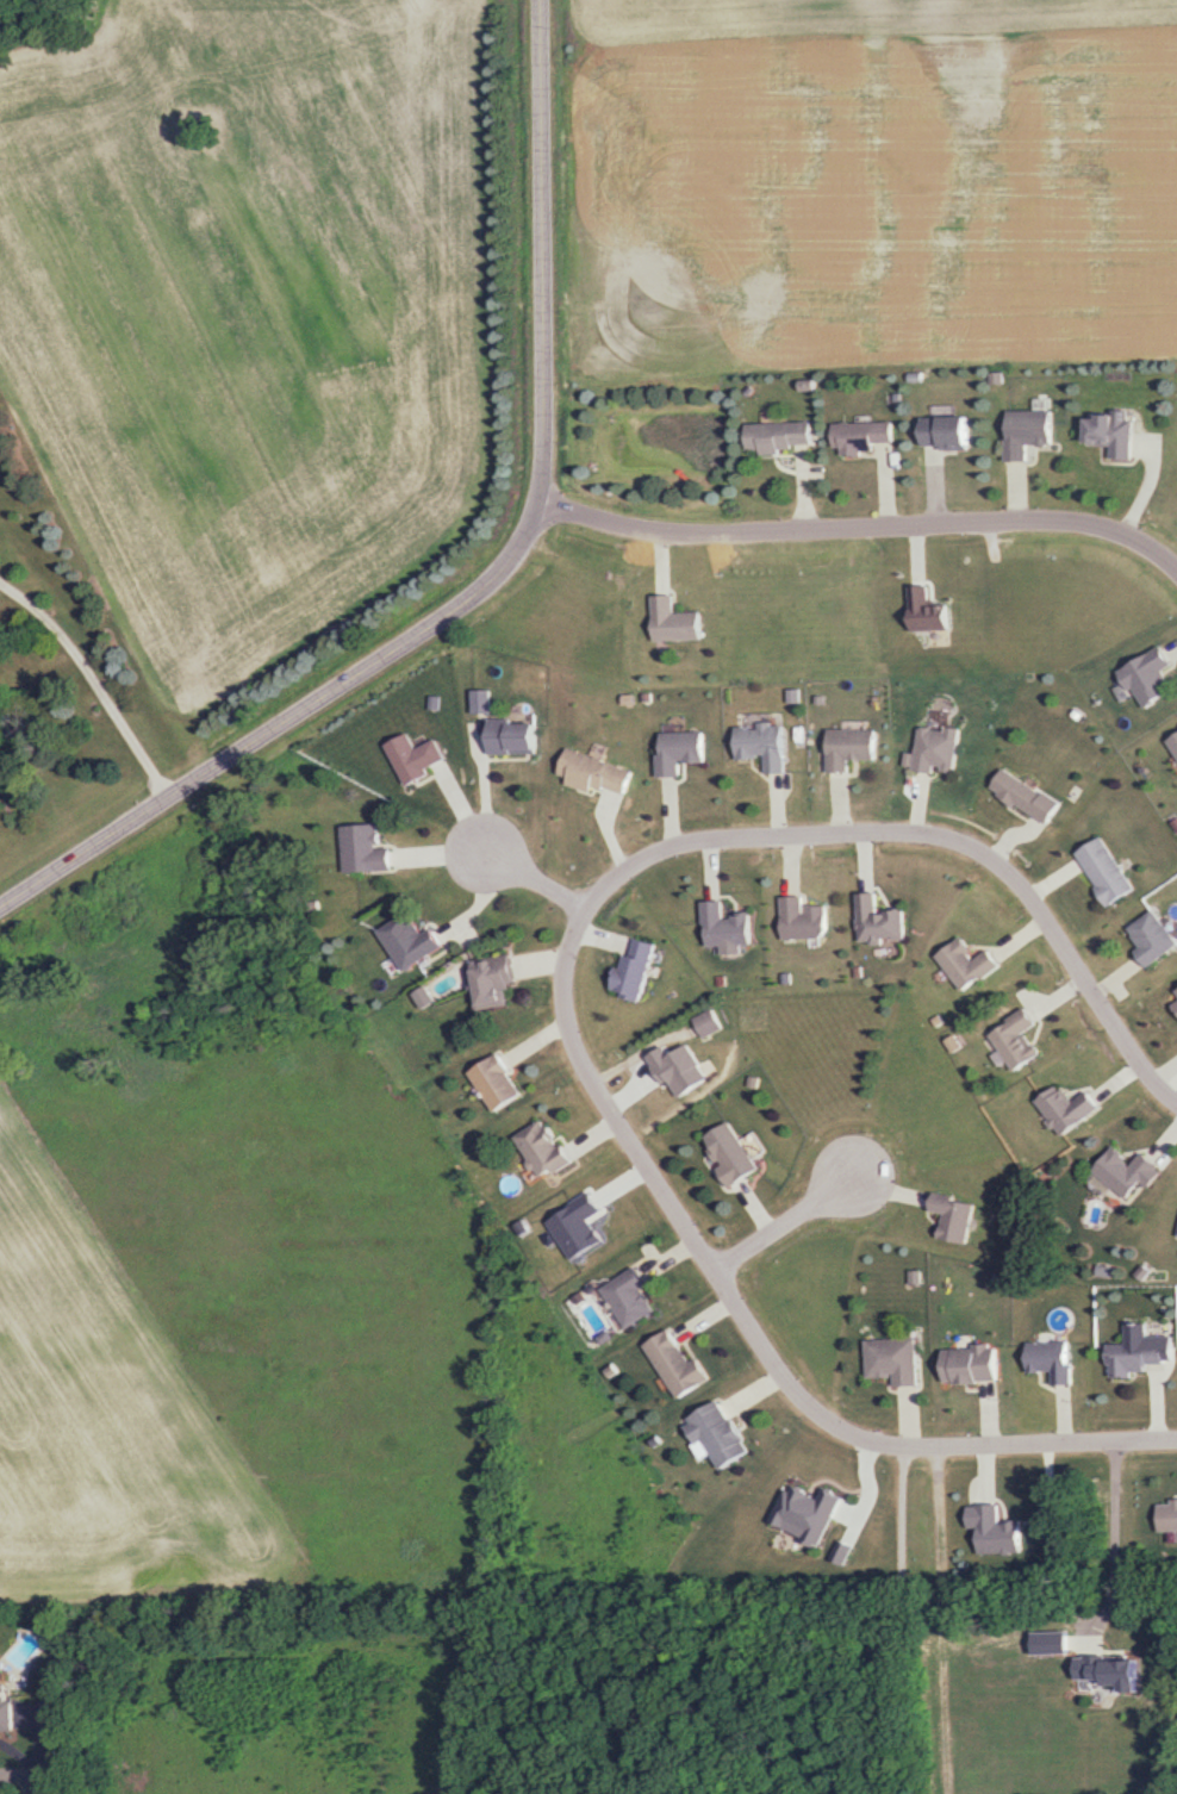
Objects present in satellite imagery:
building: (945, 430)
building: (1027, 430)
building: (1113, 435)
building: (780, 436)
building: (862, 437)
road: (864, 524)
road: (492, 575)
building: (926, 609)
building: (673, 619)
building: (1148, 675)
road: (83, 689)
building: (480, 700)
building: (512, 736)
building: (1173, 740)
building: (762, 745)
building: (851, 746)
building: (680, 749)
building: (941, 749)
building: (418, 760)
building: (591, 772)
building: (1030, 797)
road: (930, 835)
building: (363, 847)
building: (1106, 871)
road: (531, 878)
building: (804, 918)
building: (878, 920)
building: (727, 924)
building: (1151, 936)
building: (407, 940)
building: (967, 964)
building: (634, 965)
building: (857, 970)
building: (785, 976)
building: (492, 979)
building: (720, 980)
building: (710, 1024)
building: (1014, 1039)
building: (756, 1080)
building: (494, 1082)
building: (1064, 1105)
building: (542, 1148)
building: (730, 1152)
building: (1125, 1172)
building: (955, 1215)
road: (779, 1226)
building: (629, 1296)
road: (752, 1326)
building: (1134, 1354)
building: (891, 1359)
building: (1052, 1359)
building: (971, 1364)
building: (674, 1366)
building: (610, 1369)
building: (718, 1434)
building: (1169, 1515)
road: (1111, 1533)
road: (921, 1553)
building: (6, 1711)

